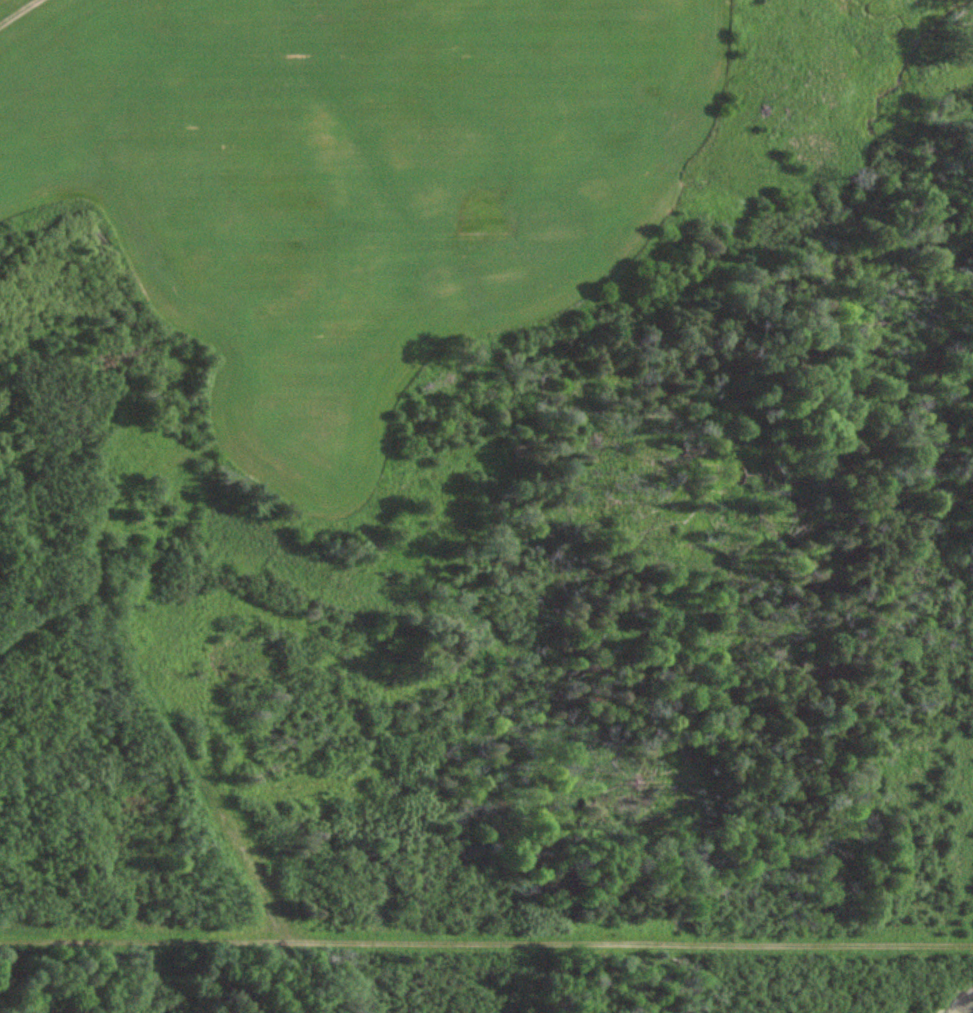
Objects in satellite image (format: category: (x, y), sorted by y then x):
road: (12, 8)
road: (486, 942)

